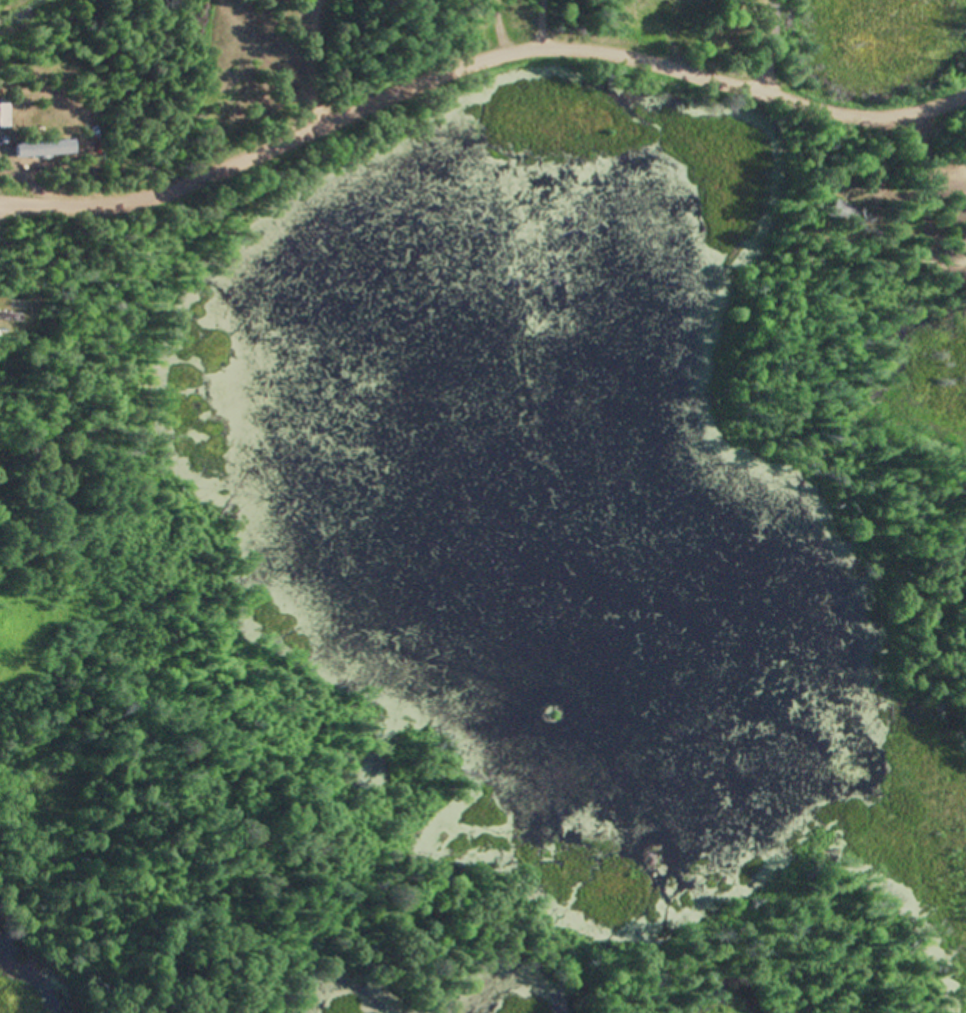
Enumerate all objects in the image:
road: (753, 45)
road: (476, 63)
building: (5, 110)
building: (47, 150)
building: (11, 317)

